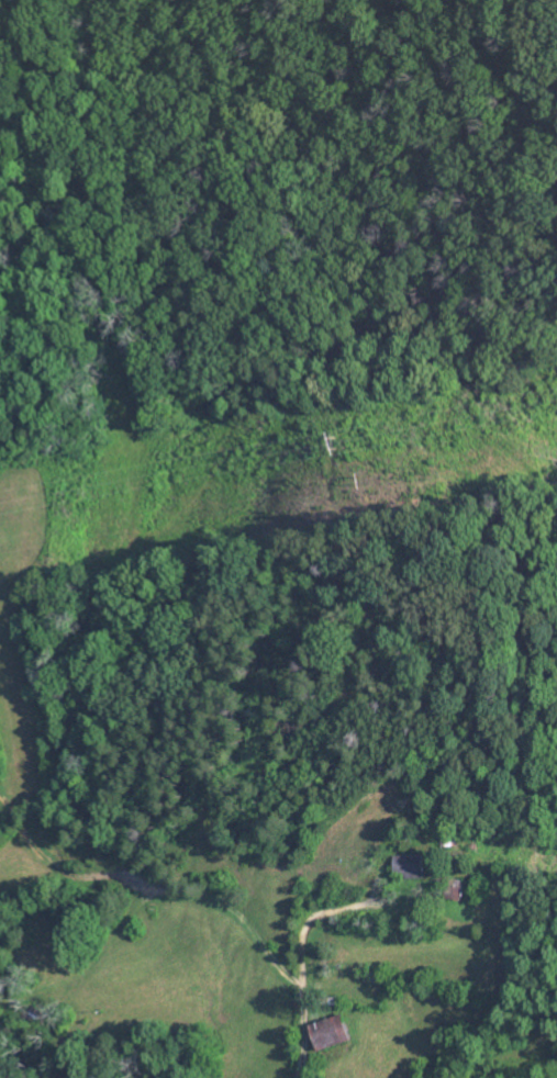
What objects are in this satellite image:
power tower: (336, 441)
power tower: (364, 478)
building: (422, 867)
building: (339, 1033)

